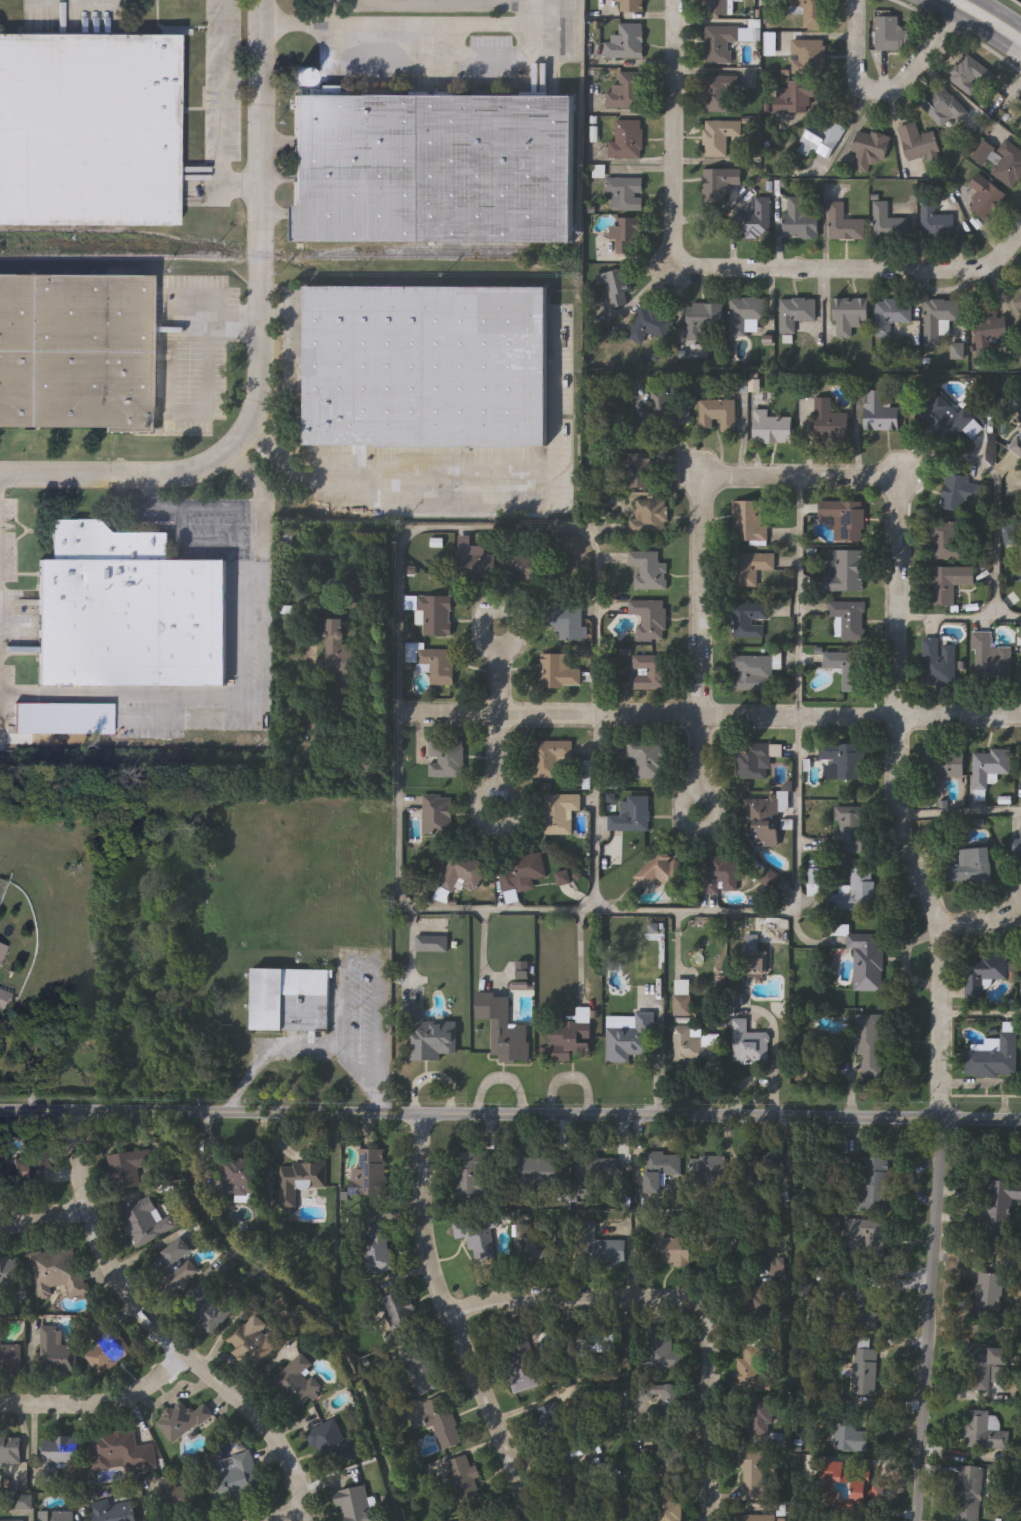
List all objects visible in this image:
building: (632, 6)
building: (732, 7)
building: (811, 12)
road: (996, 14)
road: (410, 24)
road: (971, 26)
building: (888, 33)
building: (727, 42)
road: (854, 48)
building: (809, 57)
road: (920, 58)
building: (969, 75)
building: (628, 91)
building: (719, 94)
road: (224, 95)
building: (797, 97)
building: (944, 109)
building: (1020, 122)
building: (1020, 125)
building: (89, 129)
building: (721, 137)
building: (628, 139)
building: (823, 140)
building: (918, 143)
building: (982, 152)
building: (871, 154)
building: (1008, 164)
building: (436, 169)
building: (720, 184)
building: (627, 194)
building: (985, 197)
building: (758, 219)
building: (801, 219)
building: (934, 220)
building: (888, 223)
road: (675, 226)
building: (846, 227)
railway: (126, 232)
building: (628, 233)
railway: (416, 246)
railway: (103, 256)
railway: (358, 259)
road: (948, 271)
building: (617, 289)
building: (1017, 302)
building: (747, 313)
building: (797, 313)
building: (891, 314)
building: (938, 314)
building: (851, 318)
building: (706, 322)
building: (649, 324)
building: (988, 332)
road: (209, 342)
road: (258, 344)
building: (76, 352)
building: (428, 367)
building: (671, 410)
building: (720, 414)
building: (882, 415)
building: (945, 419)
building: (832, 423)
building: (773, 428)
building: (1018, 447)
building: (641, 470)
road: (250, 475)
road: (476, 484)
building: (960, 492)
road: (997, 492)
road: (191, 507)
building: (651, 517)
building: (752, 521)
building: (848, 521)
road: (423, 528)
building: (947, 542)
road: (700, 546)
building: (480, 563)
building: (524, 566)
building: (751, 568)
building: (650, 569)
building: (846, 574)
building: (949, 582)
road: (800, 597)
building: (130, 611)
building: (437, 615)
building: (651, 617)
road: (946, 617)
road: (1008, 618)
building: (750, 620)
building: (850, 621)
building: (566, 622)
building: (340, 649)
building: (990, 658)
building: (938, 662)
building: (434, 663)
building: (559, 671)
building: (849, 671)
building: (651, 672)
building: (753, 672)
road: (221, 695)
road: (631, 714)
road: (498, 718)
building: (65, 719)
road: (937, 720)
building: (550, 757)
building: (447, 758)
building: (649, 761)
building: (756, 761)
building: (850, 764)
building: (941, 766)
building: (989, 766)
road: (595, 812)
building: (561, 813)
building: (438, 815)
road: (959, 815)
building: (633, 816)
building: (763, 821)
building: (851, 832)
building: (1020, 850)
building: (971, 868)
building: (523, 871)
building: (662, 871)
building: (464, 872)
building: (721, 875)
building: (858, 895)
road: (593, 912)
road: (980, 921)
building: (3, 953)
building: (756, 962)
building: (866, 962)
road: (374, 967)
building: (982, 973)
road: (940, 996)
building: (4, 999)
building: (289, 999)
building: (682, 1005)
road: (981, 1015)
building: (503, 1027)
building: (431, 1036)
building: (569, 1037)
building: (629, 1037)
building: (748, 1043)
building: (869, 1043)
building: (694, 1045)
road: (308, 1047)
building: (994, 1058)
road: (249, 1076)
road: (366, 1078)
road: (935, 1115)
road: (424, 1119)
building: (128, 1170)
building: (30, 1171)
building: (662, 1173)
building: (706, 1173)
building: (370, 1174)
building: (470, 1174)
building: (536, 1174)
building: (594, 1174)
building: (238, 1178)
building: (300, 1181)
building: (756, 1182)
building: (871, 1185)
building: (1001, 1205)
road: (45, 1222)
building: (145, 1224)
building: (746, 1231)
building: (476, 1234)
building: (870, 1237)
building: (598, 1248)
building: (667, 1248)
building: (379, 1249)
building: (546, 1253)
building: (752, 1265)
building: (174, 1268)
building: (58, 1272)
building: (9, 1274)
building: (989, 1295)
building: (763, 1296)
road: (571, 1299)
building: (866, 1305)
building: (208, 1309)
building: (399, 1311)
road: (450, 1326)
road: (160, 1328)
building: (251, 1342)
building: (107, 1348)
building: (661, 1350)
building: (55, 1353)
building: (10, 1358)
building: (521, 1364)
building: (985, 1366)
building: (423, 1371)
building: (751, 1372)
building: (295, 1383)
building: (665, 1401)
road: (98, 1402)
road: (707, 1410)
building: (758, 1419)
building: (183, 1421)
building: (443, 1424)
building: (549, 1426)
building: (985, 1431)
building: (332, 1444)
building: (10, 1450)
building: (120, 1453)
building: (59, 1457)
building: (662, 1464)
building: (752, 1475)
building: (236, 1479)
building: (466, 1484)
building: (567, 1485)
building: (848, 1490)
building: (969, 1493)
building: (173, 1496)
building: (23, 1503)
building: (355, 1505)
road: (265, 1506)
building: (668, 1511)
building: (120, 1513)
building: (55, 1517)
building: (756, 1518)
building: (480, 1520)

